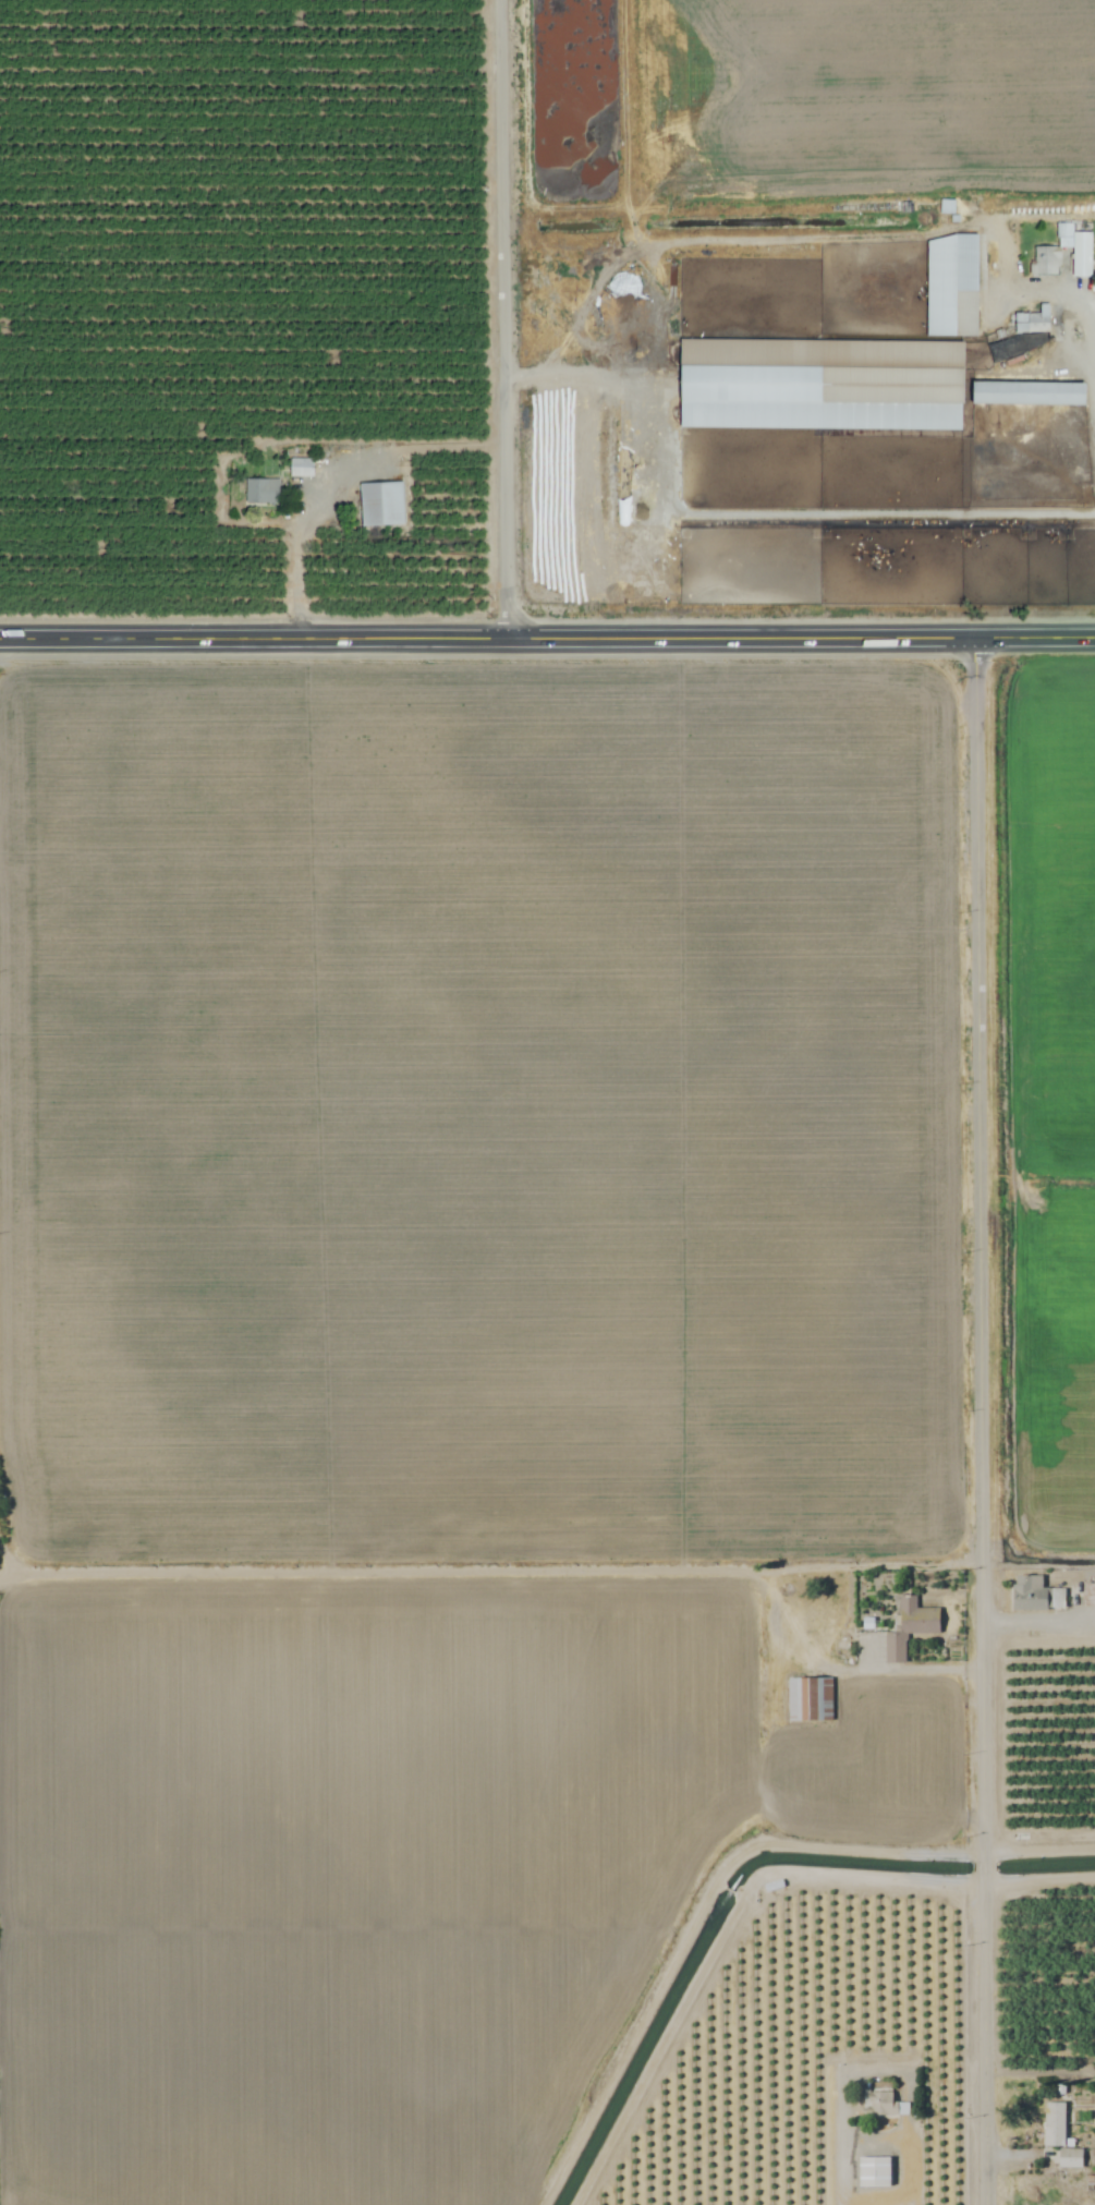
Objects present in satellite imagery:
building: (1079, 252)
building: (1046, 264)
building: (952, 288)
road: (503, 318)
building: (1033, 324)
road: (1091, 352)
building: (822, 387)
building: (1030, 396)
building: (302, 470)
building: (631, 474)
building: (263, 494)
building: (381, 506)
road: (741, 512)
road: (297, 557)
road: (547, 637)
road: (981, 1246)
building: (1035, 1595)
road: (770, 1596)
building: (1088, 1596)
road: (1038, 1625)
building: (909, 1627)
building: (1090, 1648)
building: (808, 1699)
building: (1043, 1723)
road: (1038, 1847)
road: (984, 1865)
road: (1039, 1879)
road: (985, 2039)
building: (880, 2105)
building: (1054, 2124)
building: (1070, 2159)
building: (874, 2172)

